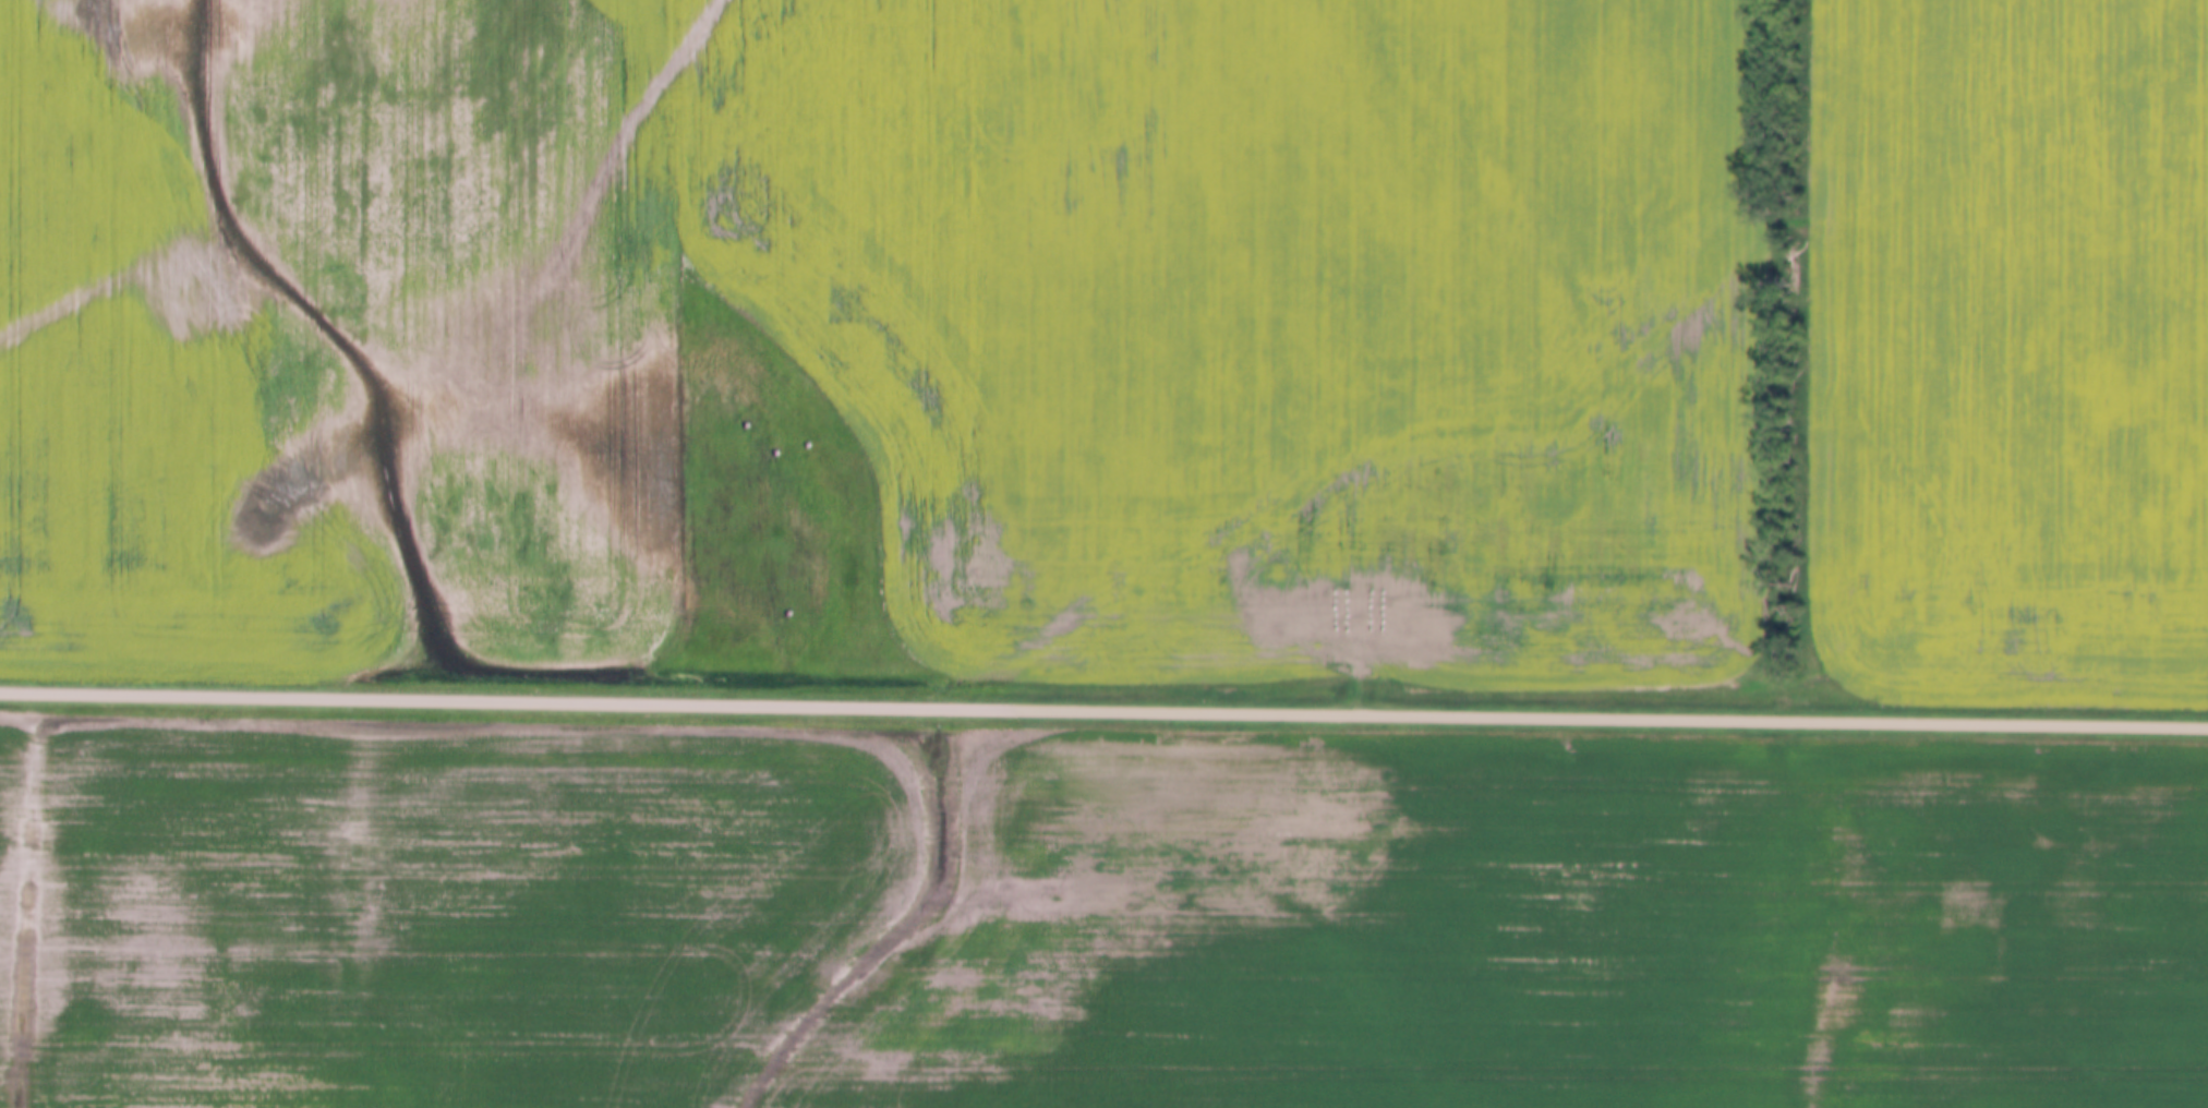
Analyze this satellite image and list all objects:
road: (1103, 706)

